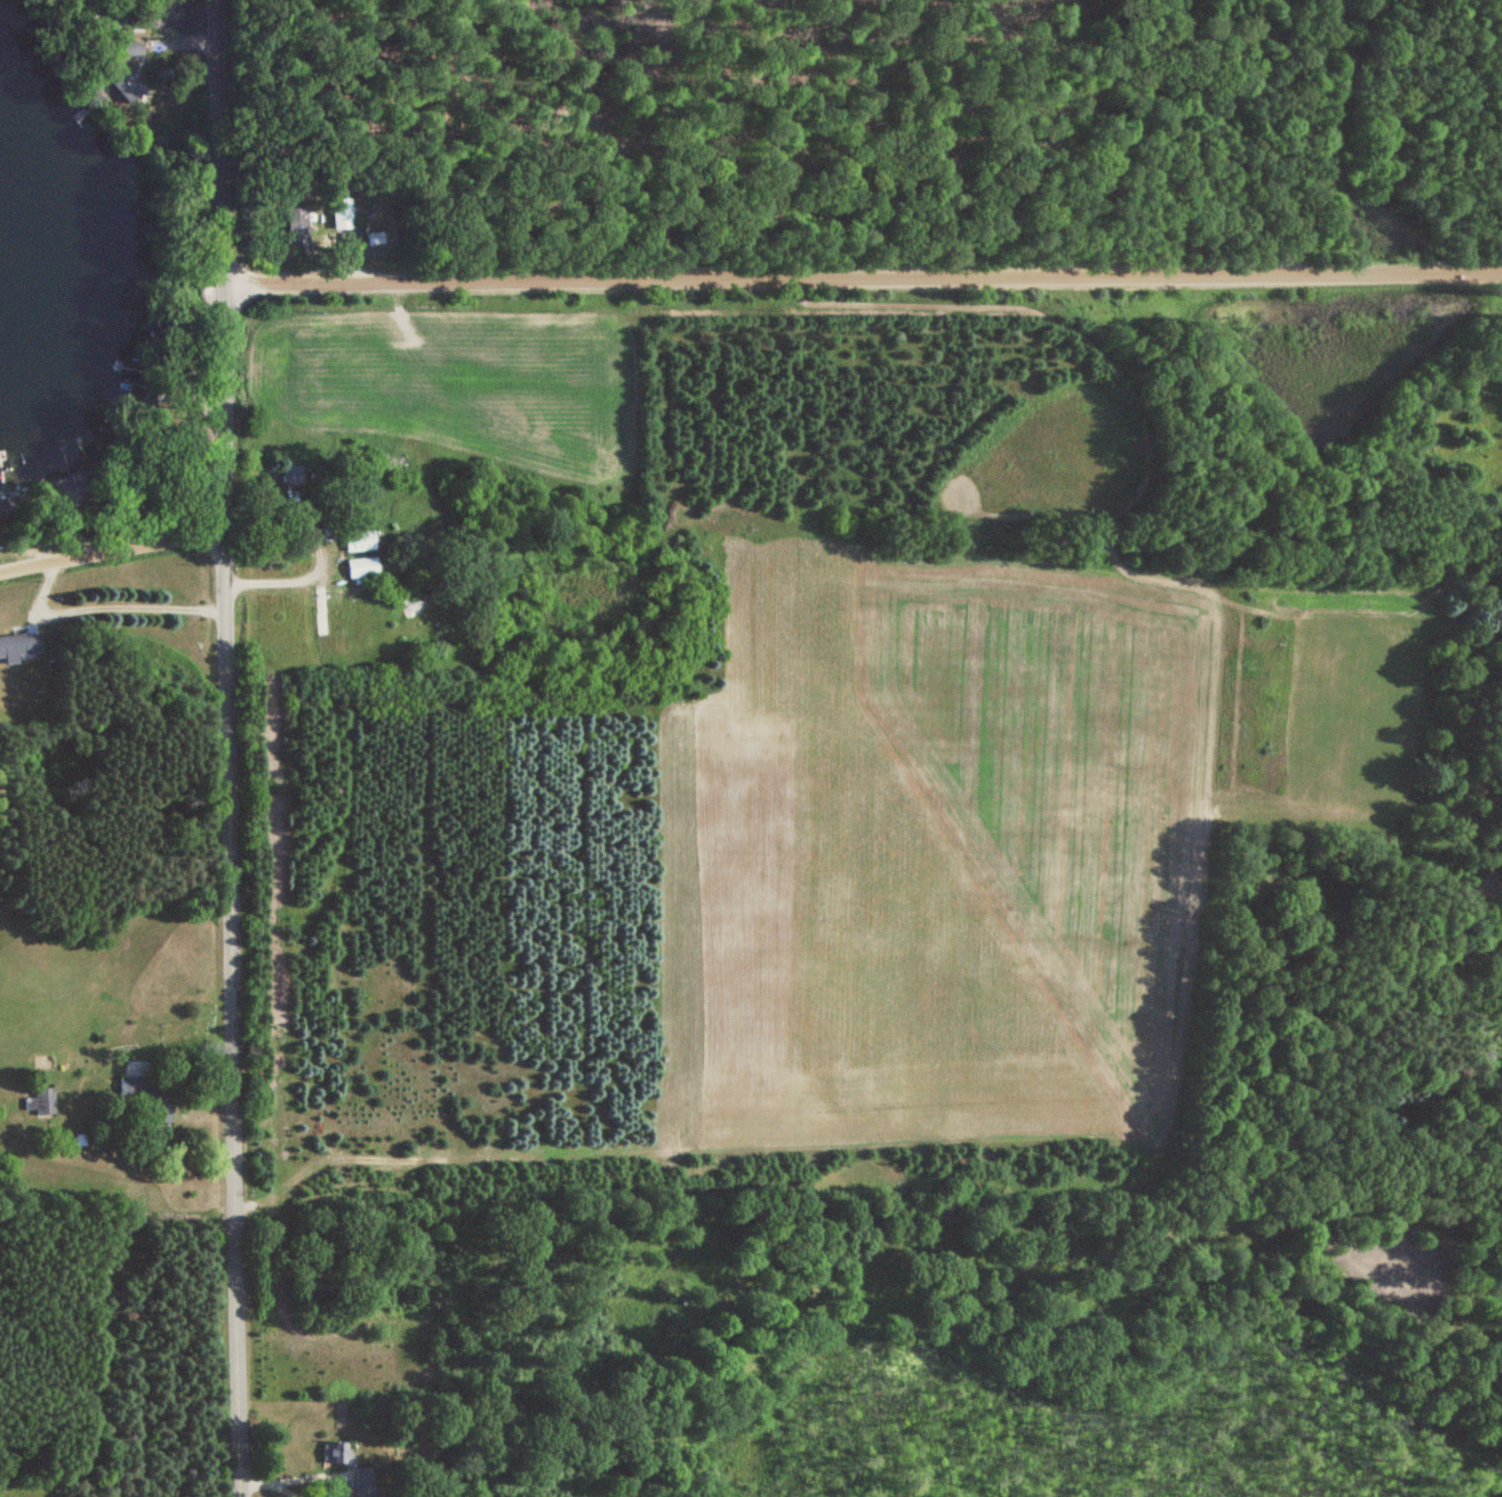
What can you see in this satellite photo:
building: (132, 50)
building: (126, 88)
road: (1328, 145)
building: (342, 215)
building: (297, 228)
building: (373, 240)
road: (864, 278)
crop: (454, 383)
building: (380, 470)
building: (290, 476)
building: (6, 507)
building: (358, 541)
building: (299, 547)
road: (113, 550)
building: (361, 568)
road: (106, 608)
building: (321, 613)
building: (19, 646)
road: (231, 748)
crop: (923, 851)
building: (42, 1103)
building: (156, 1111)
road: (432, 1154)
building: (338, 1455)
road: (295, 1480)
building: (365, 1483)

